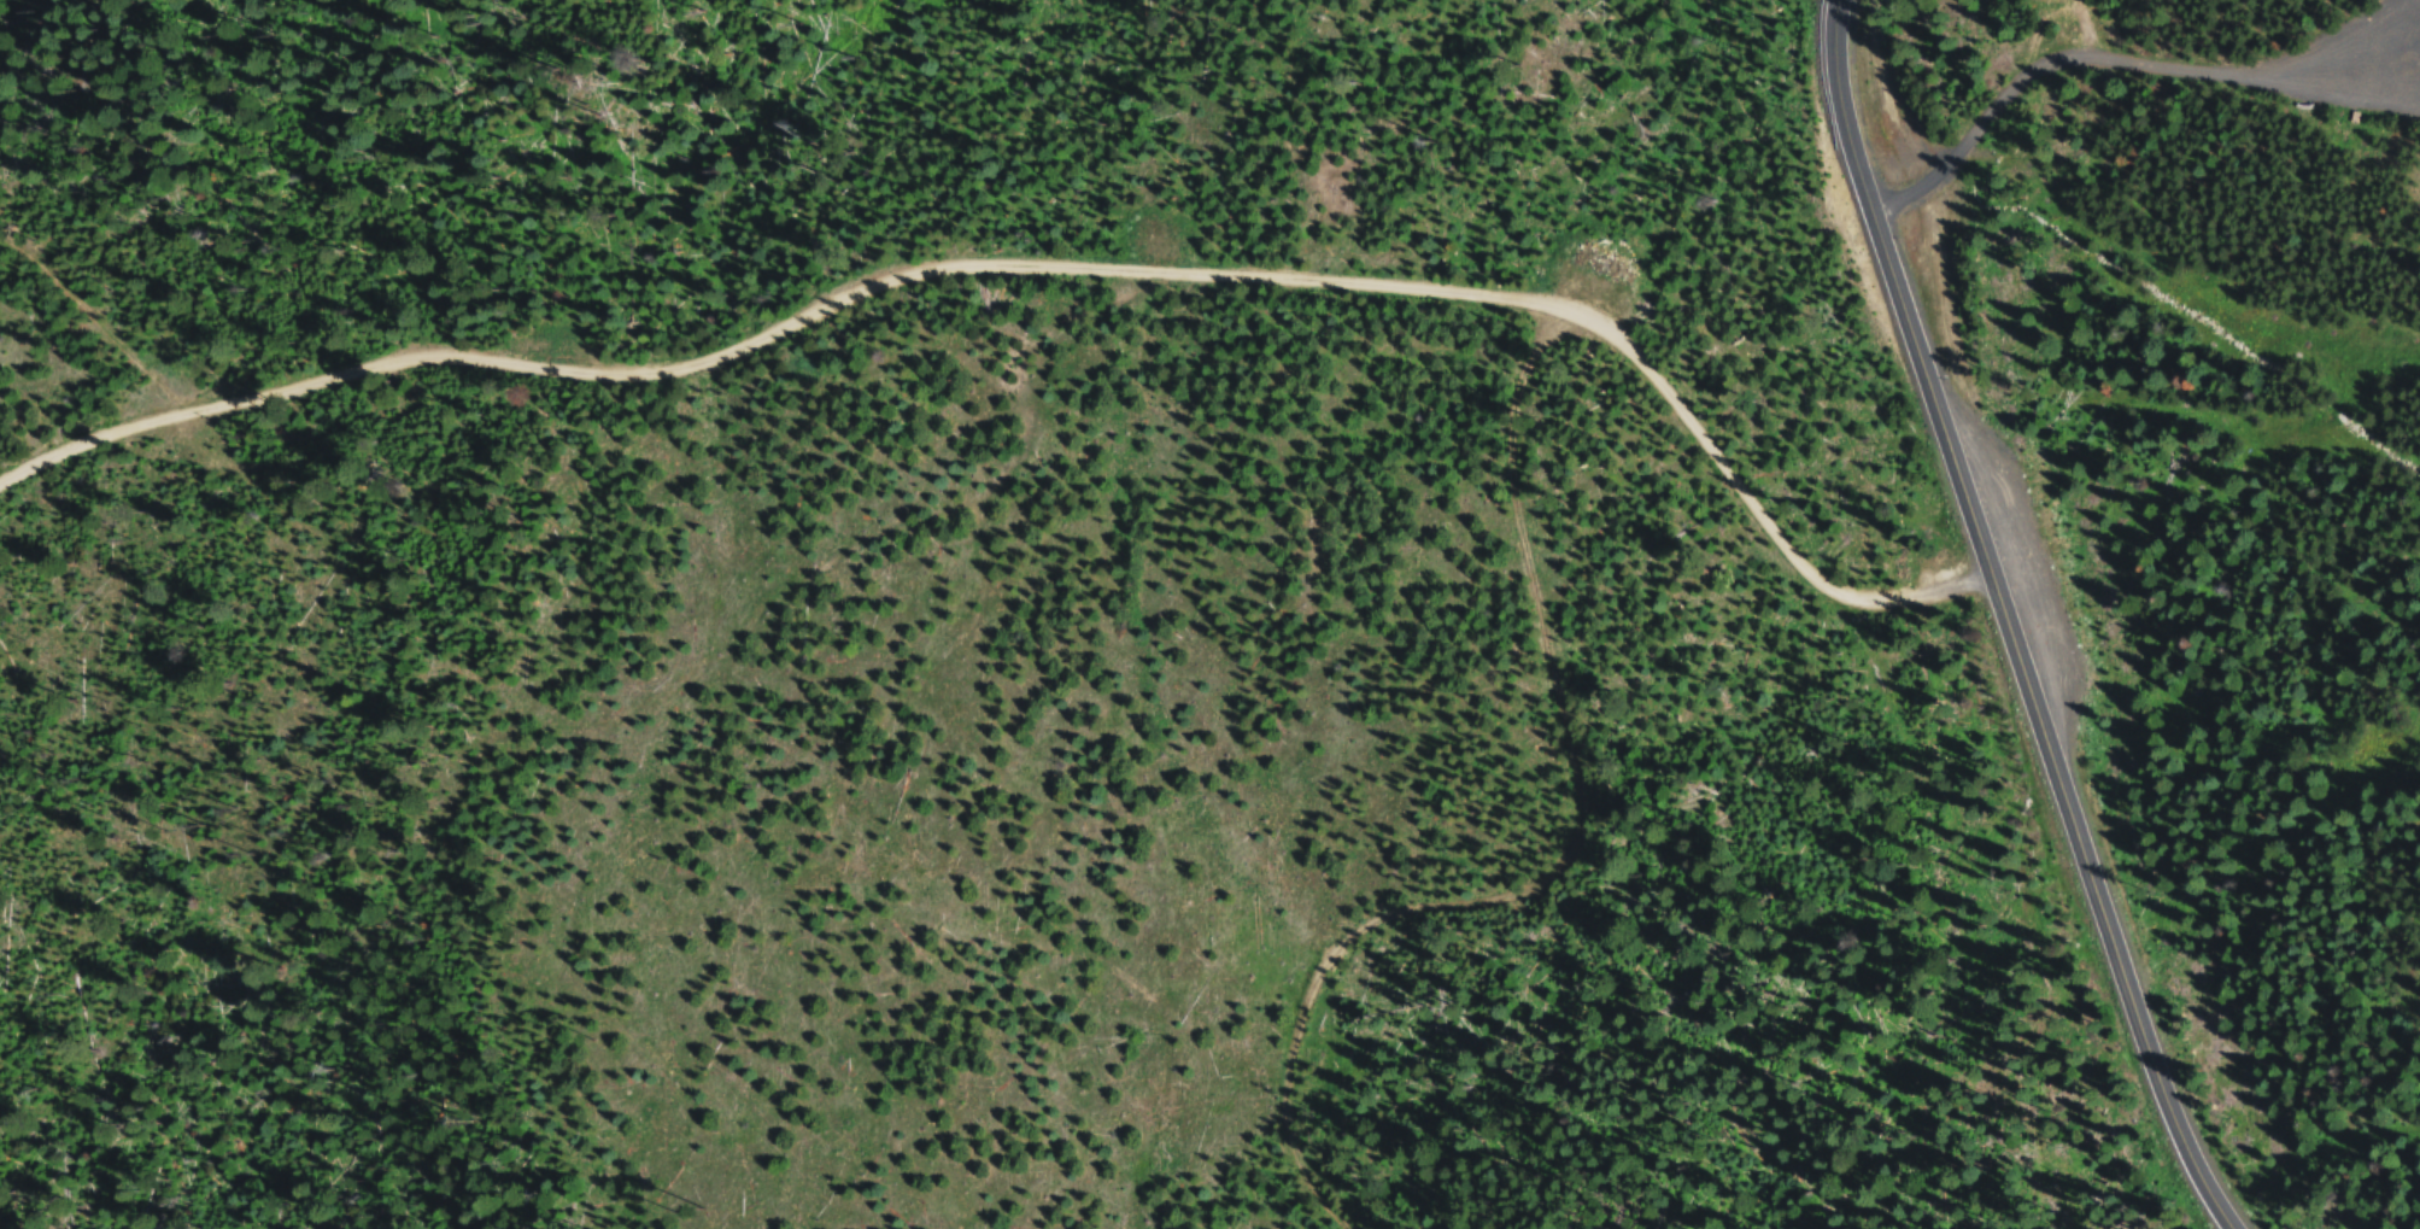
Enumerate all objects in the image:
road: (2121, 62)
parking lot: (2357, 65)
road: (2005, 622)
road: (804, 893)

